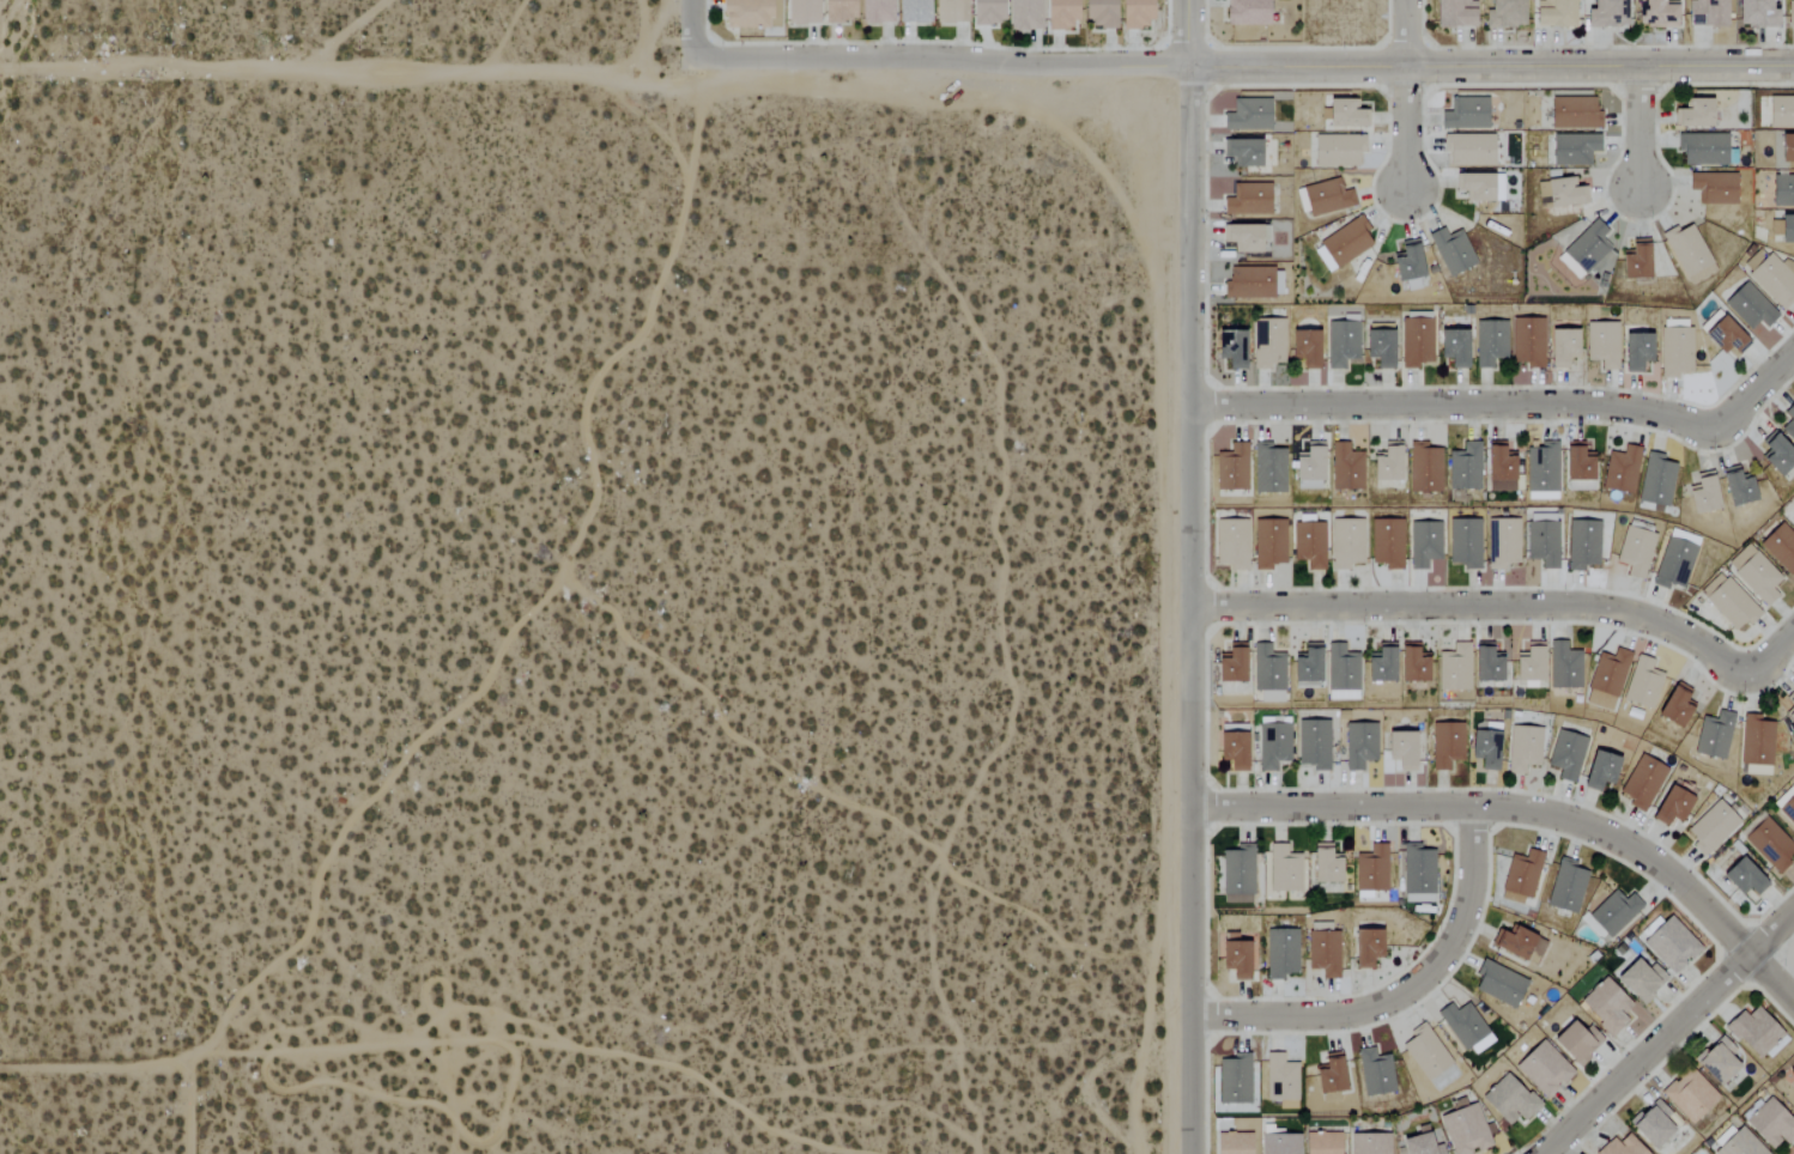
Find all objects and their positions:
building: (838, 11)
building: (950, 11)
building: (802, 12)
building: (875, 12)
building: (913, 12)
building: (987, 12)
building: (1247, 12)
building: (751, 13)
building: (1099, 13)
building: (1453, 13)
building: (1504, 13)
building: (1553, 13)
building: (1705, 13)
building: (1060, 14)
building: (1135, 14)
building: (1605, 14)
building: (1656, 14)
building: (1756, 14)
building: (1790, 14)
building: (1025, 16)
road: (693, 29)
road: (1194, 31)
road: (1406, 34)
road: (944, 61)
road: (1493, 67)
road: (349, 72)
building: (1781, 111)
building: (1572, 113)
building: (1693, 113)
building: (1344, 114)
building: (1465, 114)
building: (1247, 115)
road: (656, 126)
road: (1406, 129)
road: (1642, 129)
building: (1786, 147)
building: (1469, 148)
building: (1574, 148)
building: (1702, 148)
building: (1241, 151)
building: (1337, 151)
building: (1479, 186)
building: (1713, 188)
building: (1782, 190)
building: (1563, 193)
building: (1326, 198)
building: (1247, 199)
building: (1786, 227)
building: (1244, 236)
building: (1587, 247)
building: (1451, 250)
building: (1687, 253)
building: (1635, 260)
building: (1753, 260)
building: (1406, 262)
building: (1774, 280)
building: (1250, 283)
building: (1748, 306)
building: (1725, 335)
building: (1416, 341)
building: (1527, 341)
building: (1267, 342)
building: (1489, 342)
building: (1340, 344)
building: (1602, 344)
building: (1303, 347)
building: (1377, 347)
building: (1453, 347)
building: (1560, 347)
building: (1230, 348)
building: (1635, 351)
building: (1675, 352)
road: (1762, 384)
road: (1467, 405)
building: (1789, 421)
building: (1777, 454)
building: (1386, 463)
building: (1576, 463)
building: (1308, 464)
building: (1345, 467)
building: (1463, 467)
building: (1232, 468)
building: (1268, 468)
building: (1498, 468)
building: (1424, 469)
building: (1622, 469)
building: (1543, 472)
building: (1656, 480)
building: (1735, 487)
building: (1702, 493)
building: (1793, 524)
building: (1346, 542)
building: (1465, 542)
building: (1503, 542)
building: (1543, 542)
building: (1268, 543)
building: (1309, 543)
building: (1386, 543)
building: (1423, 543)
building: (1582, 543)
building: (1780, 547)
building: (1635, 551)
building: (1754, 575)
road: (1485, 600)
building: (1731, 603)
road: (537, 606)
road: (1199, 608)
road: (1775, 651)
building: (1380, 663)
building: (1229, 664)
building: (1485, 664)
building: (1305, 666)
building: (1411, 666)
building: (1528, 667)
building: (1563, 667)
building: (1454, 668)
building: (1267, 673)
building: (1341, 673)
building: (1606, 679)
building: (1642, 684)
building: (1790, 704)
building: (1674, 705)
building: (1714, 735)
building: (1313, 745)
building: (1359, 745)
building: (1445, 745)
building: (1273, 746)
building: (1756, 746)
building: (1522, 748)
building: (1231, 749)
building: (1400, 749)
building: (1565, 755)
building: (1598, 770)
building: (1641, 782)
building: (1671, 806)
building: (1788, 809)
road: (1529, 812)
building: (1710, 827)
building: (1770, 844)
building: (1322, 864)
building: (1284, 869)
building: (1371, 870)
building: (1237, 873)
building: (1738, 873)
building: (1418, 874)
building: (1521, 874)
building: (1565, 887)
building: (1613, 912)
building: (1519, 945)
building: (1669, 945)
building: (1365, 948)
building: (1280, 953)
building: (1323, 953)
building: (1234, 959)
building: (1638, 979)
building: (1498, 984)
road: (1401, 991)
building: (1606, 1007)
building: (1466, 1028)
road: (1669, 1032)
building: (1756, 1032)
building: (1576, 1041)
building: (1425, 1052)
building: (1716, 1062)
road: (92, 1065)
building: (1543, 1069)
building: (1374, 1073)
building: (1328, 1074)
building: (1280, 1079)
building: (1234, 1080)
building: (1792, 1089)
building: (1689, 1095)
building: (1508, 1100)
road: (186, 1110)
building: (1770, 1124)
building: (1650, 1125)
building: (1465, 1130)
building: (1234, 1143)
building: (1279, 1143)
building: (1321, 1143)
building: (1369, 1143)
building: (1418, 1144)
building: (1739, 1144)
building: (1620, 1147)

